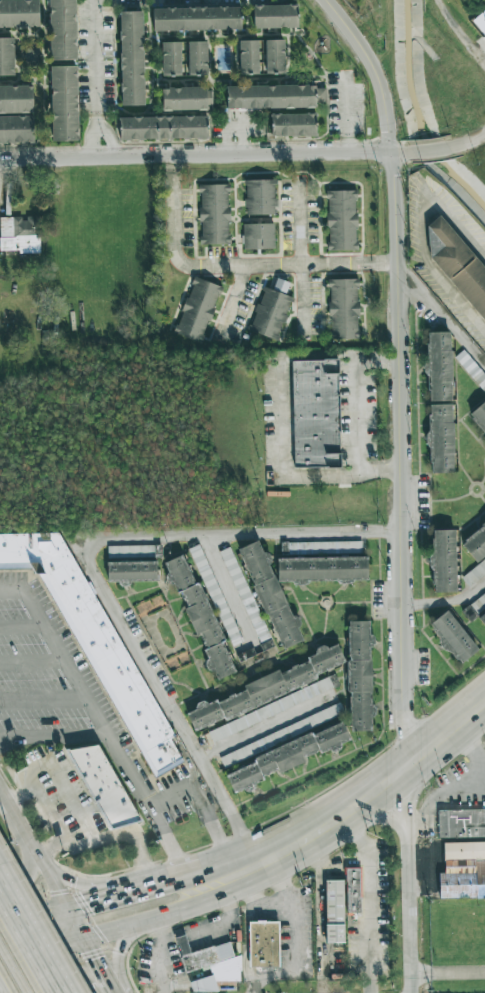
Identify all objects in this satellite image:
building: (19, 12)
building: (275, 16)
building: (196, 18)
building: (64, 29)
road: (458, 31)
building: (7, 55)
building: (31, 55)
building: (274, 56)
building: (134, 57)
building: (248, 57)
building: (197, 58)
building: (171, 59)
road: (98, 79)
building: (275, 96)
building: (16, 97)
building: (186, 98)
building: (66, 102)
building: (293, 125)
building: (163, 128)
building: (16, 129)
road: (468, 143)
road: (429, 151)
road: (399, 153)
road: (195, 157)
road: (427, 191)
building: (259, 197)
building: (214, 214)
building: (341, 220)
building: (20, 234)
building: (258, 236)
building: (450, 255)
road: (300, 258)
road: (233, 266)
building: (281, 286)
road: (232, 303)
road: (454, 304)
building: (197, 309)
building: (343, 309)
road: (440, 313)
building: (270, 314)
building: (439, 366)
building: (472, 368)
road: (356, 396)
building: (315, 414)
building: (479, 416)
building: (440, 438)
road: (278, 473)
road: (396, 487)
building: (475, 543)
building: (322, 547)
building: (131, 550)
building: (444, 561)
building: (322, 568)
road: (87, 569)
building: (131, 570)
building: (475, 574)
road: (227, 591)
building: (244, 594)
building: (215, 595)
building: (271, 597)
road: (444, 602)
building: (477, 604)
building: (199, 615)
building: (482, 619)
building: (452, 637)
building: (97, 644)
building: (359, 676)
building: (269, 686)
road: (265, 725)
road: (100, 727)
road: (52, 737)
building: (283, 757)
road: (42, 766)
road: (462, 782)
building: (102, 786)
road: (20, 796)
road: (8, 806)
road: (202, 807)
road: (117, 835)
road: (297, 835)
building: (462, 854)
road: (29, 863)
road: (48, 872)
building: (352, 890)
road: (370, 897)
building: (334, 911)
traffic signals: (81, 923)
road: (33, 933)
road: (126, 934)
road: (40, 935)
road: (288, 941)
building: (263, 944)
road: (99, 958)
building: (208, 964)
road: (14, 968)
road: (53, 973)
road: (445, 973)

